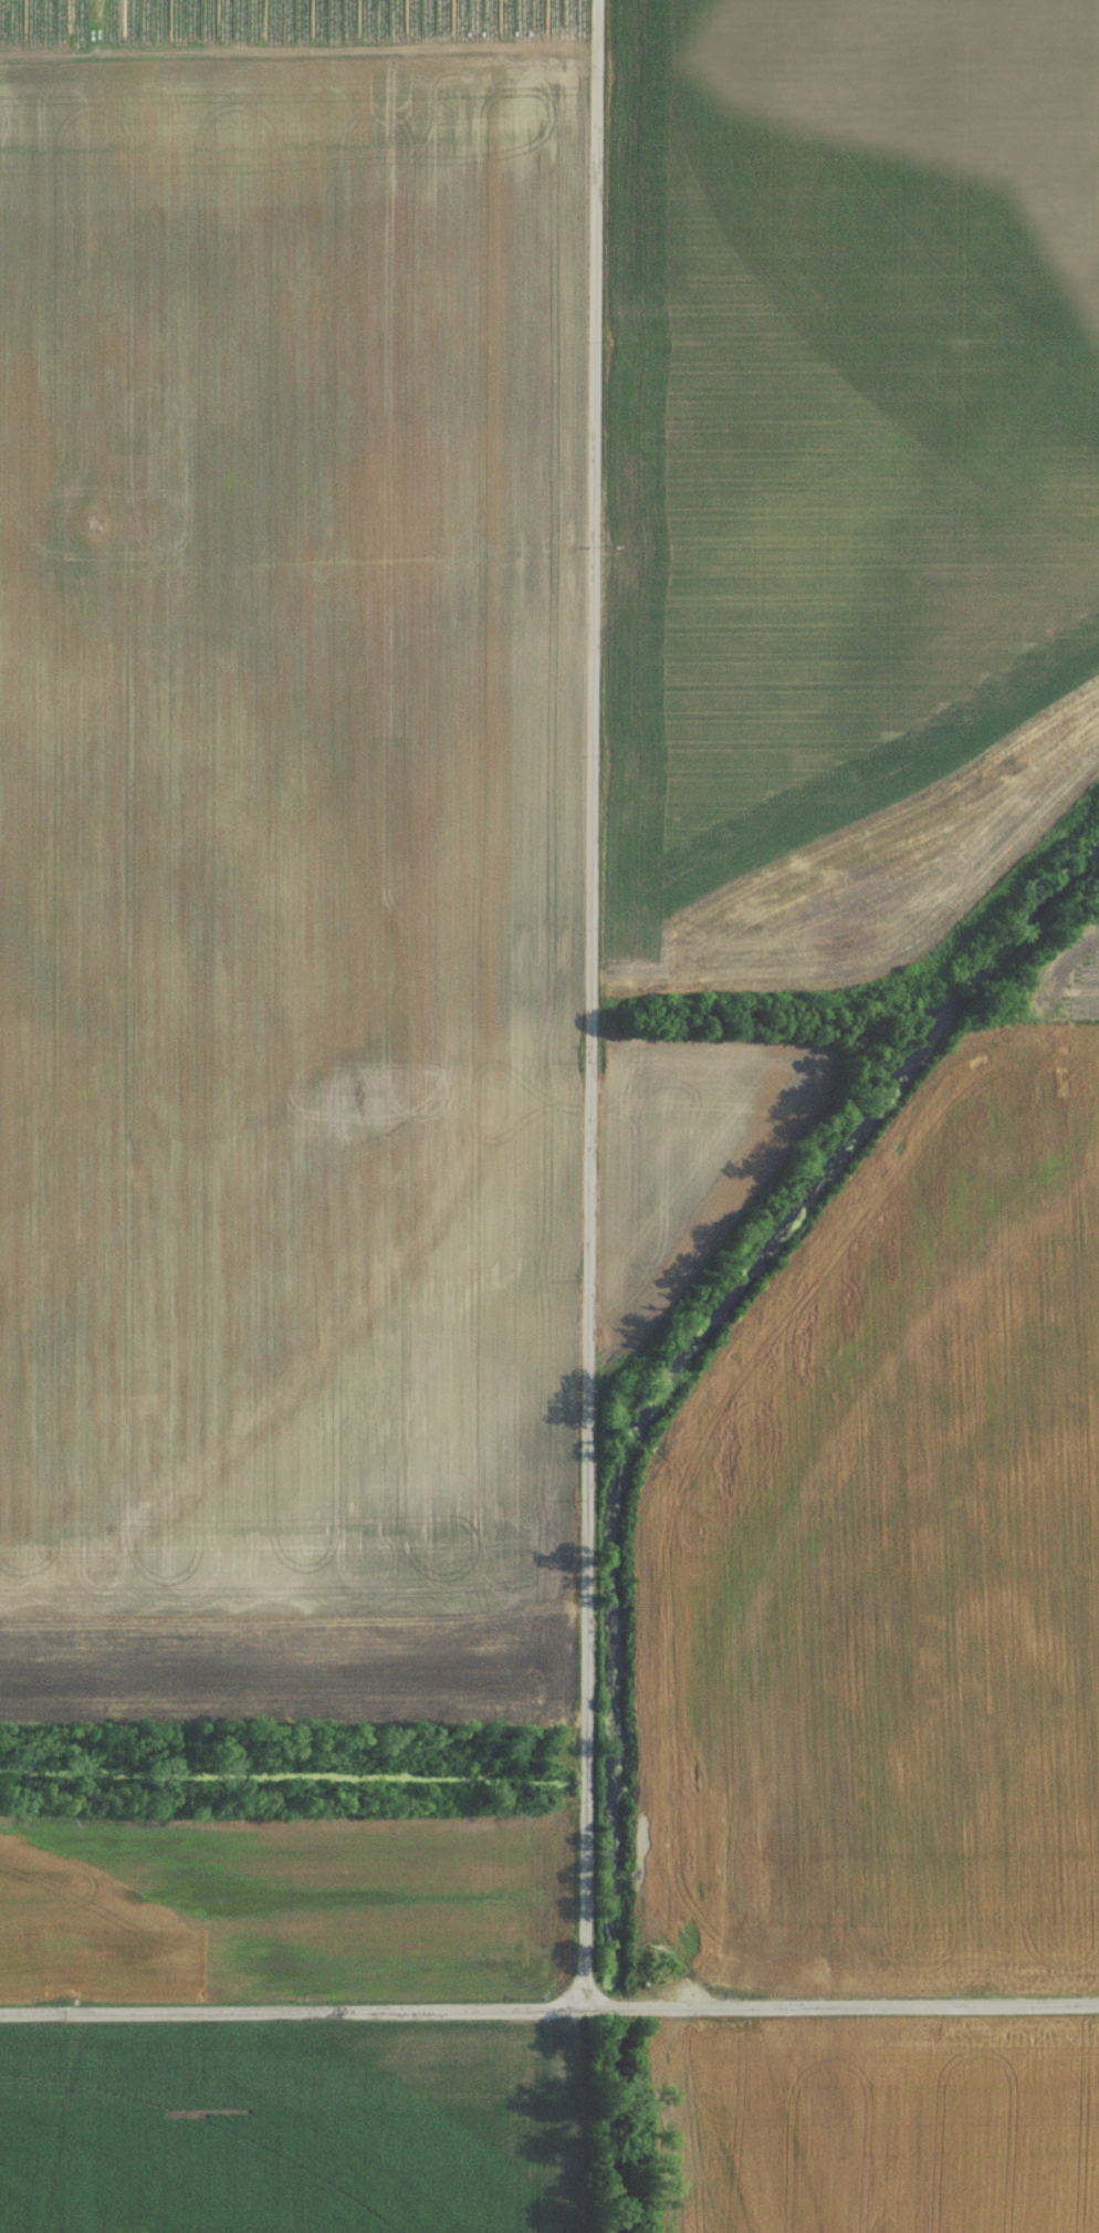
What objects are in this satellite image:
road: (625, 1015)
road: (549, 2031)

